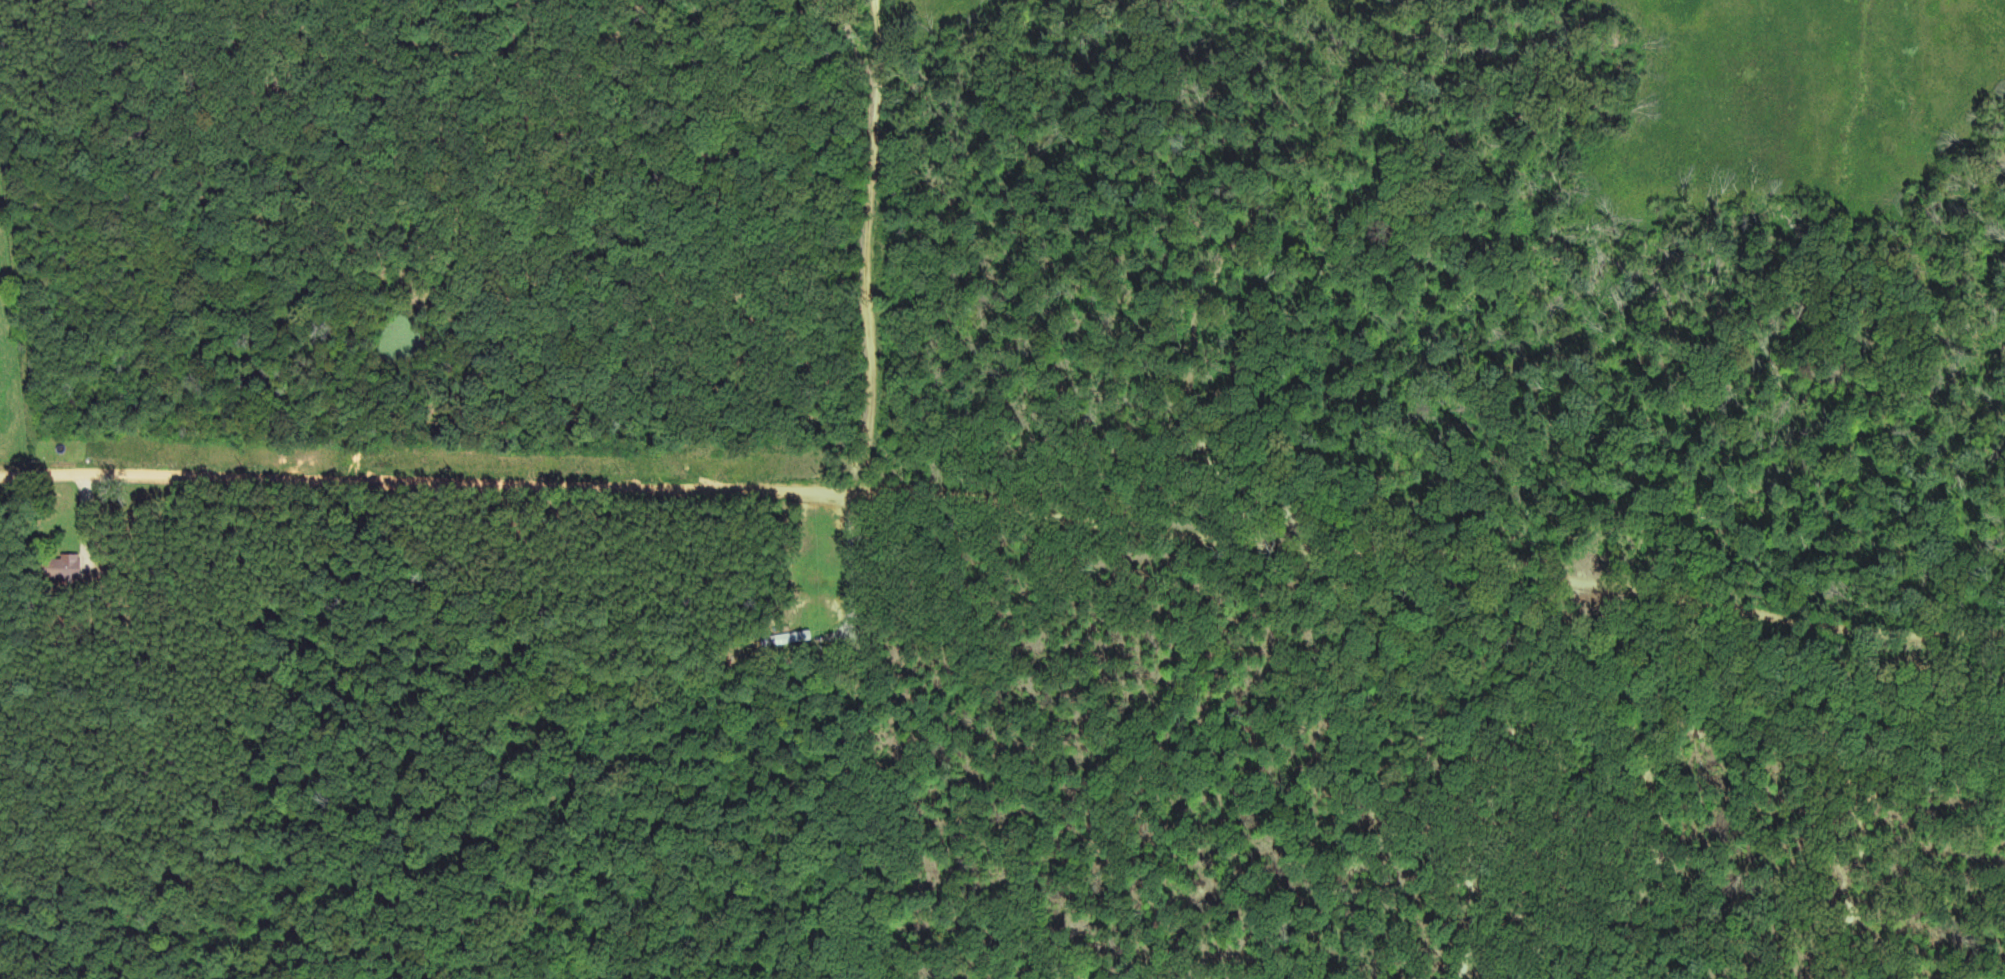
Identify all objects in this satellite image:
road: (890, 244)
road: (1008, 504)
building: (789, 639)

